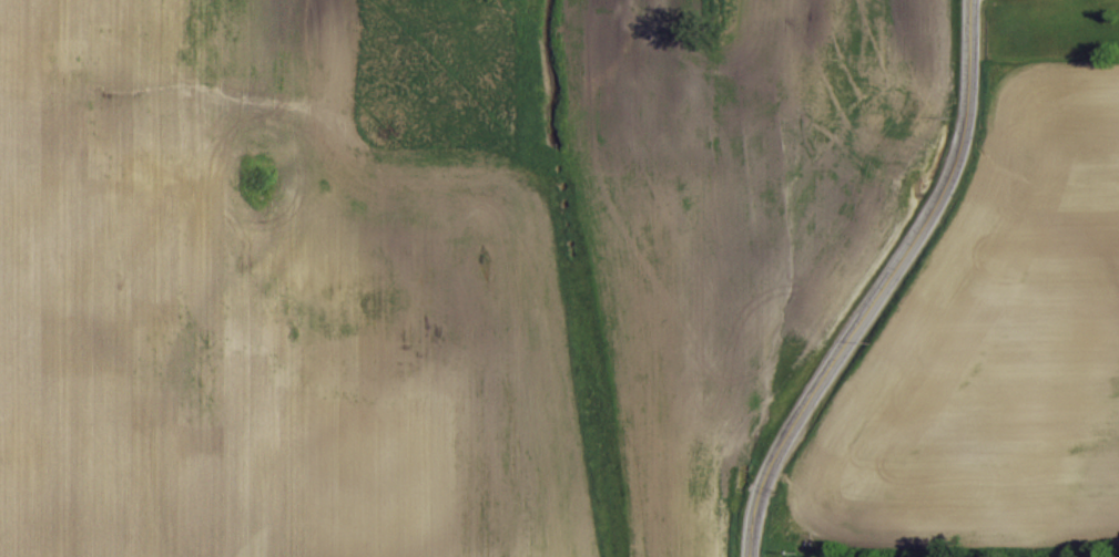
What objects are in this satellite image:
road: (886, 286)

